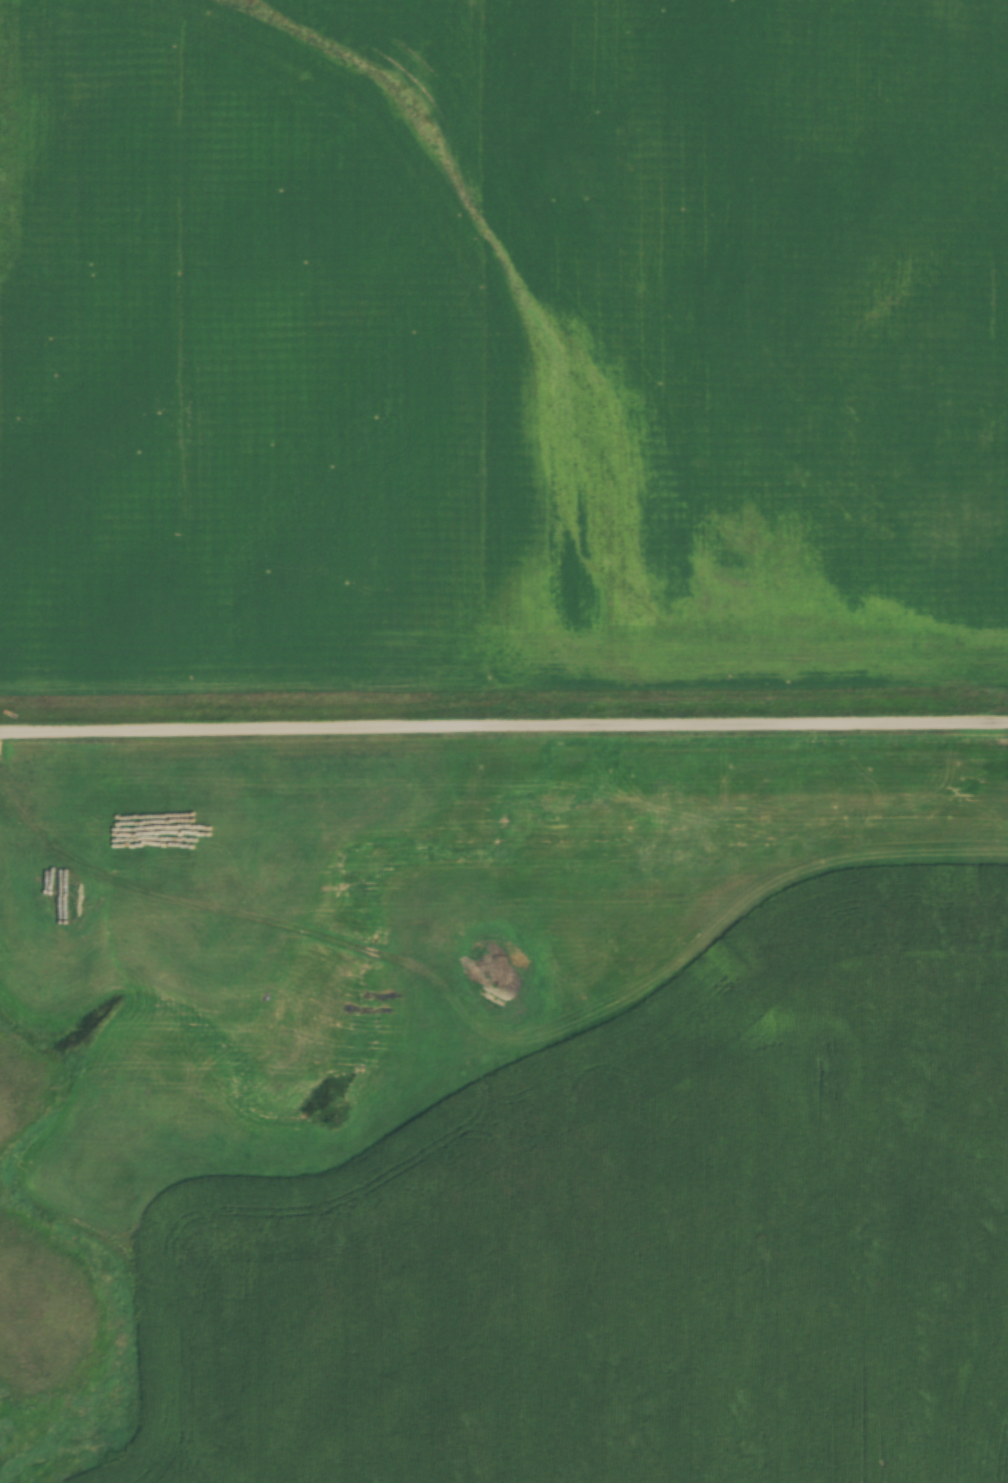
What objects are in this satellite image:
road: (503, 723)

